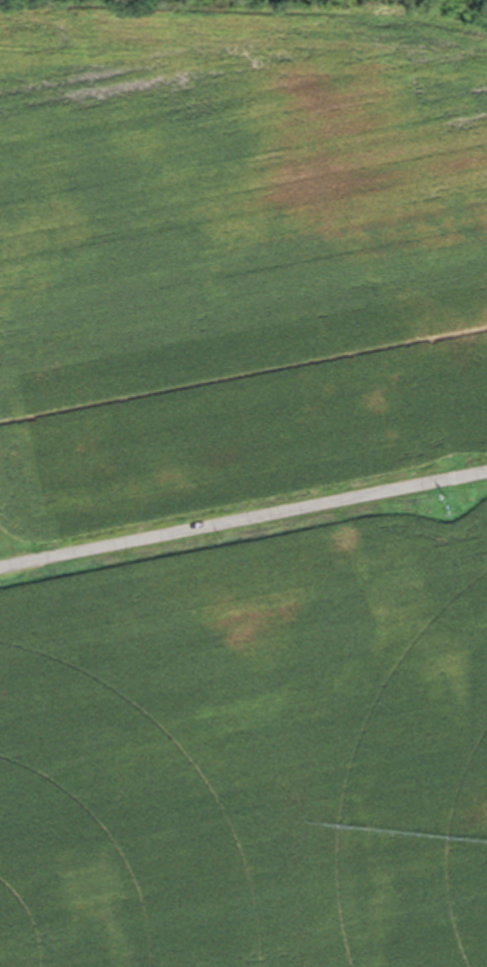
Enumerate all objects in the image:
road: (243, 534)

